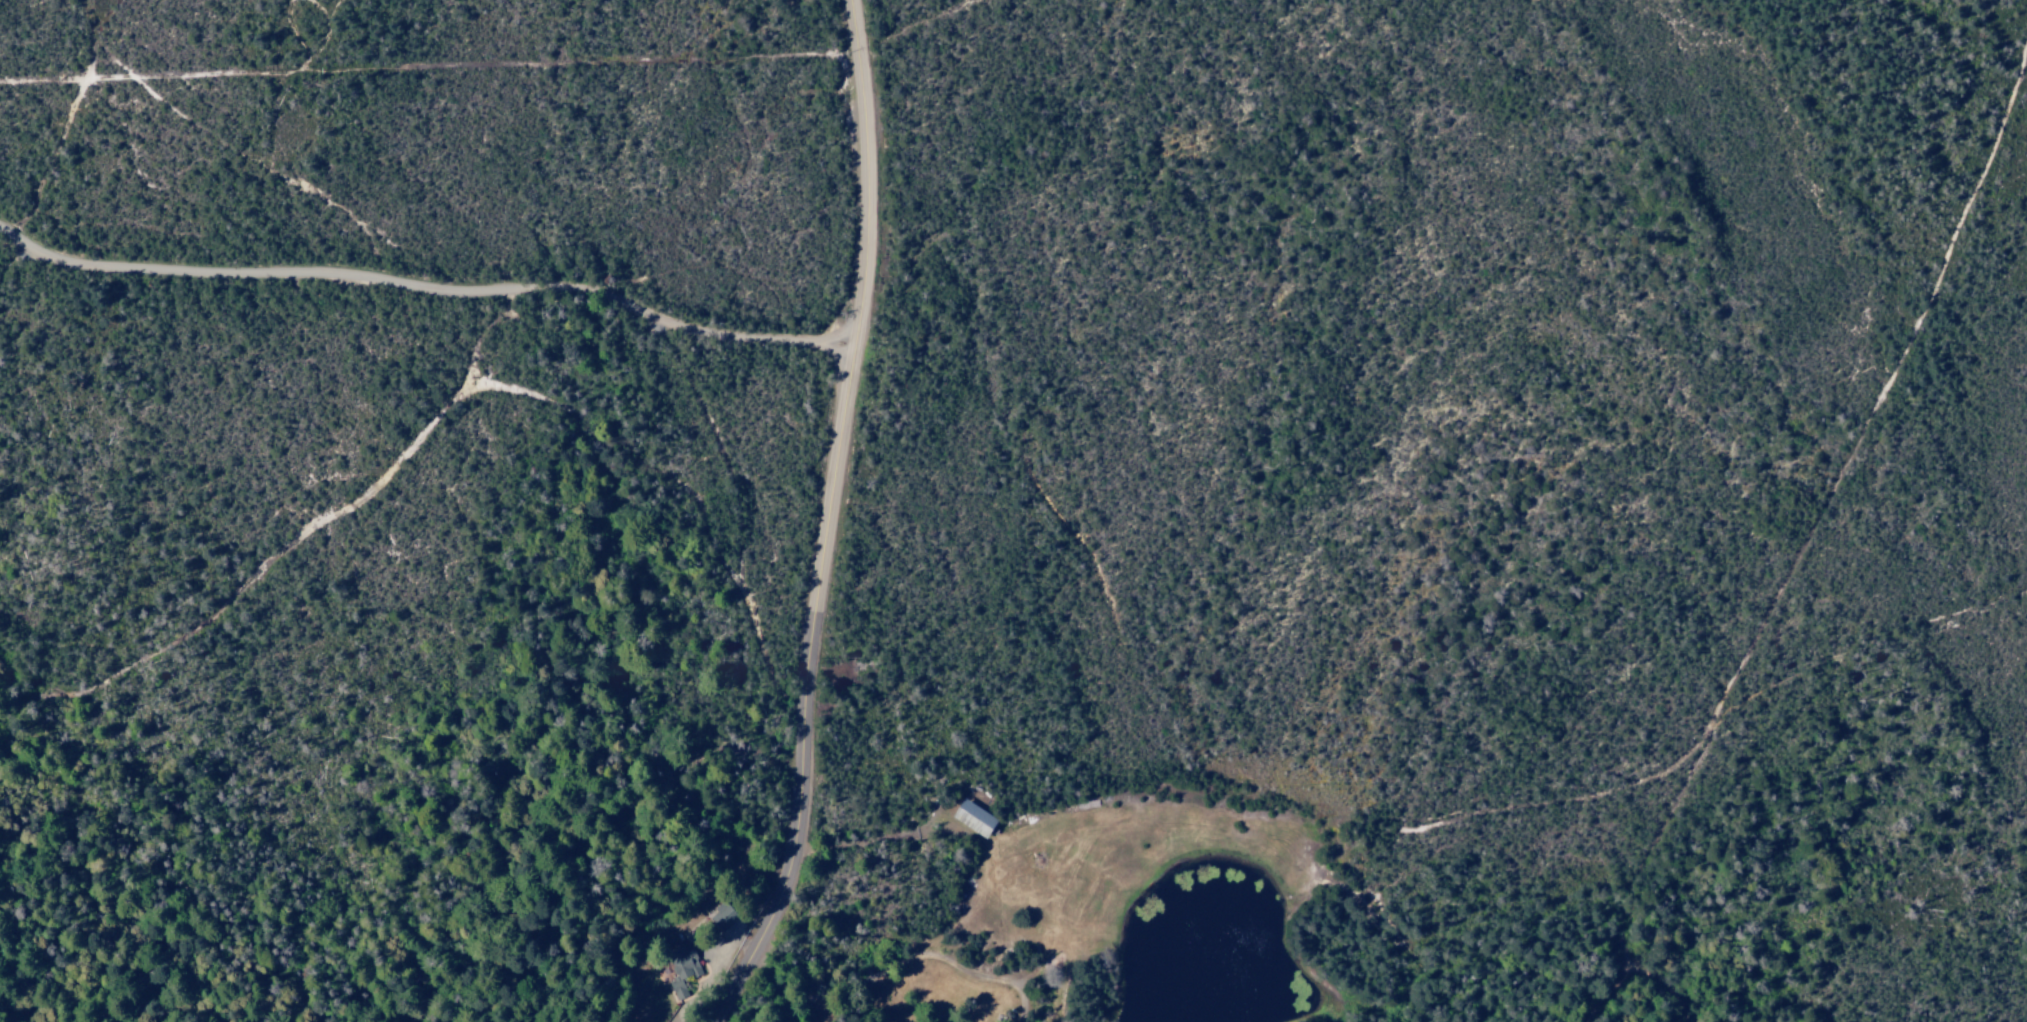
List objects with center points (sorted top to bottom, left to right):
road: (427, 291)
road: (826, 519)
building: (980, 819)

